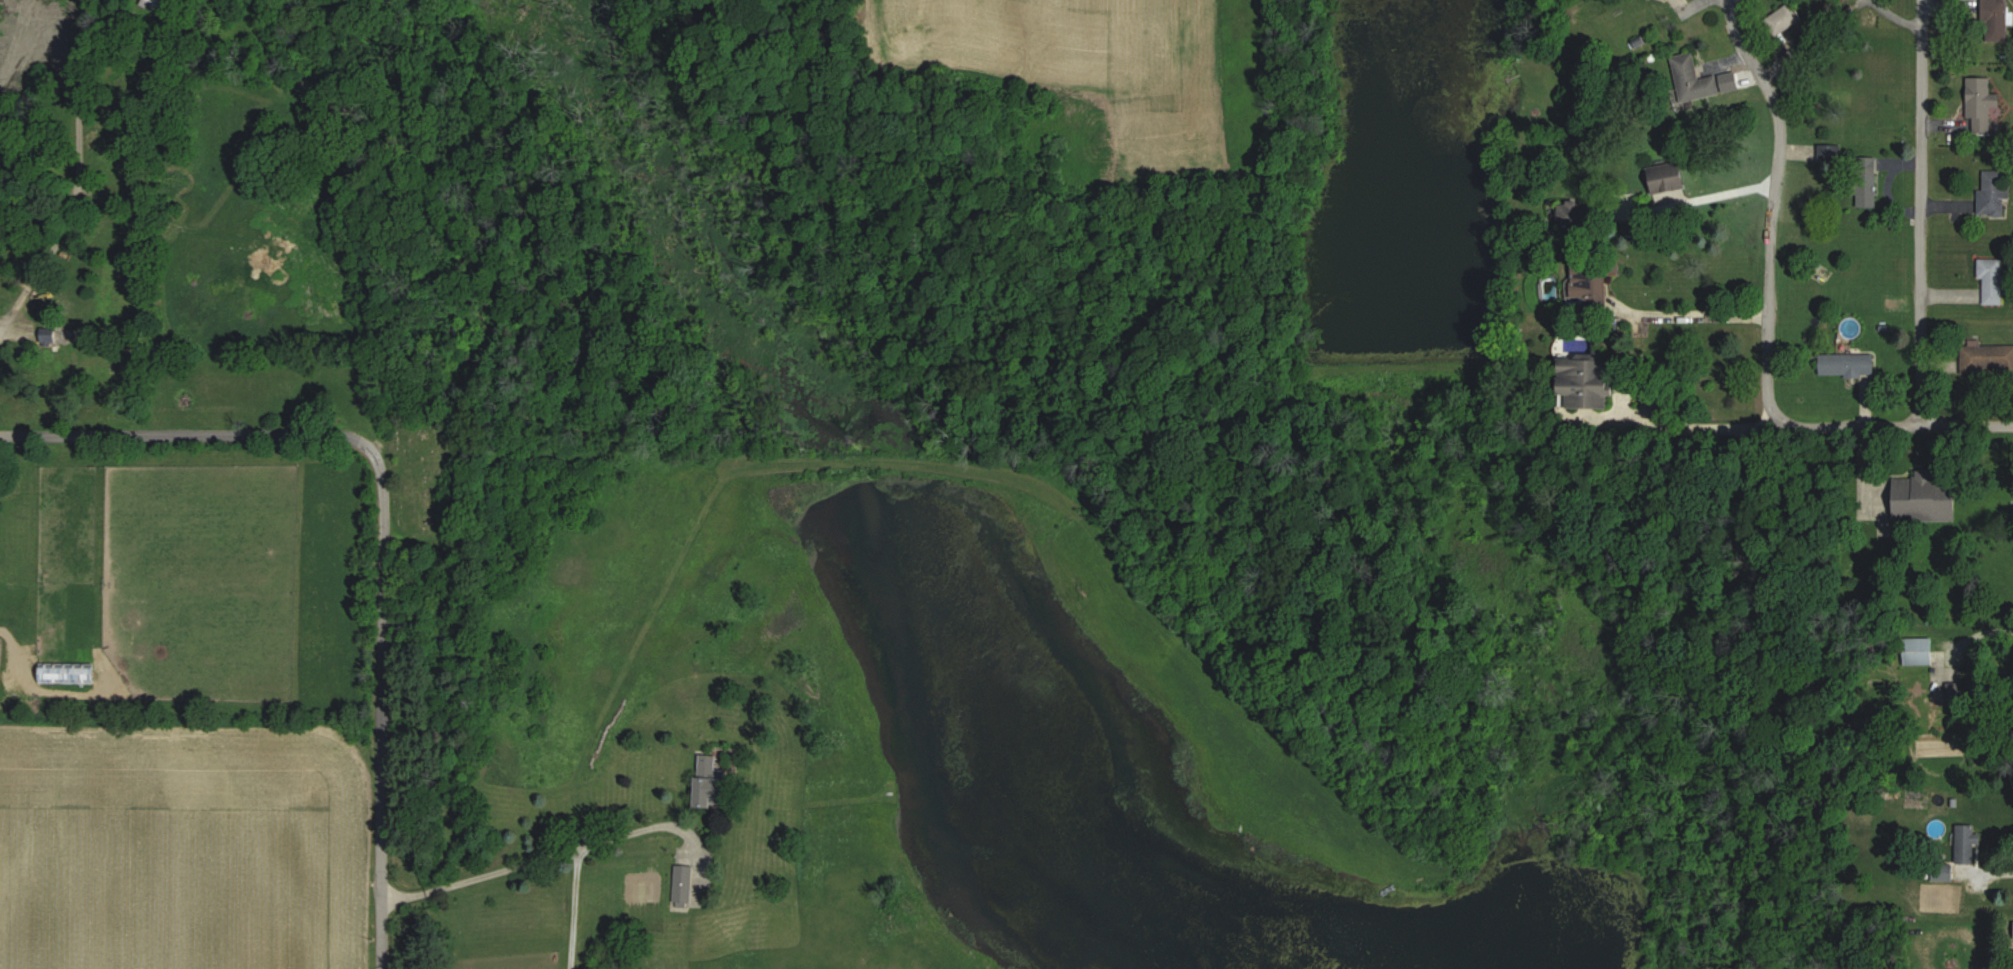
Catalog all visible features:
building: (155, 5)
building: (1789, 17)
building: (1996, 19)
building: (1694, 80)
building: (1731, 83)
building: (1983, 105)
road: (72, 169)
building: (1668, 178)
building: (1869, 183)
building: (1994, 194)
road: (1717, 196)
road: (1922, 213)
road: (1772, 224)
building: (1993, 281)
building: (1588, 287)
road: (1686, 316)
building: (50, 336)
building: (1988, 358)
building: (1849, 366)
building: (1589, 385)
road: (1916, 426)
road: (1698, 427)
road: (176, 434)
road: (2008, 467)
building: (1928, 501)
building: (1922, 651)
building: (69, 673)
road: (379, 697)
building: (711, 781)
building: (1967, 843)
road: (536, 861)
road: (1959, 870)
building: (1944, 875)
road: (2000, 877)
building: (684, 884)

